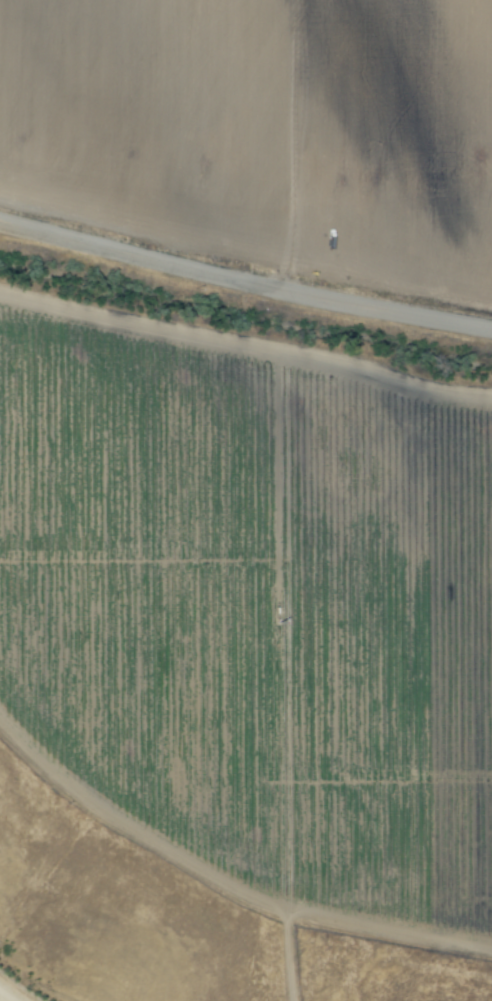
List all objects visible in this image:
road: (245, 284)
road: (246, 350)

